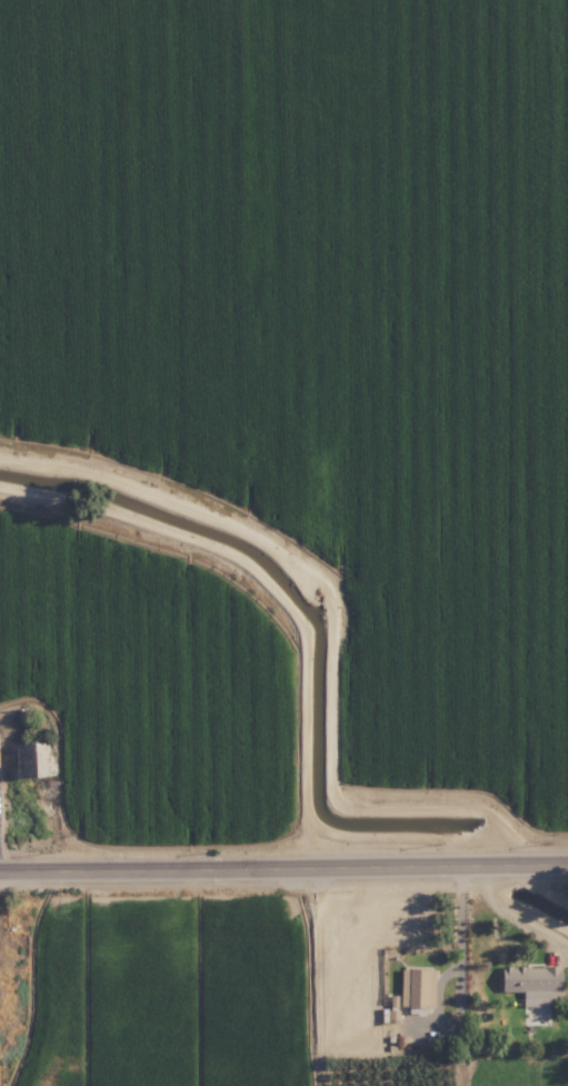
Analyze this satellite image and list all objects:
crop: (285, 415)
road: (283, 859)
road: (460, 940)
building: (526, 980)
building: (413, 995)

